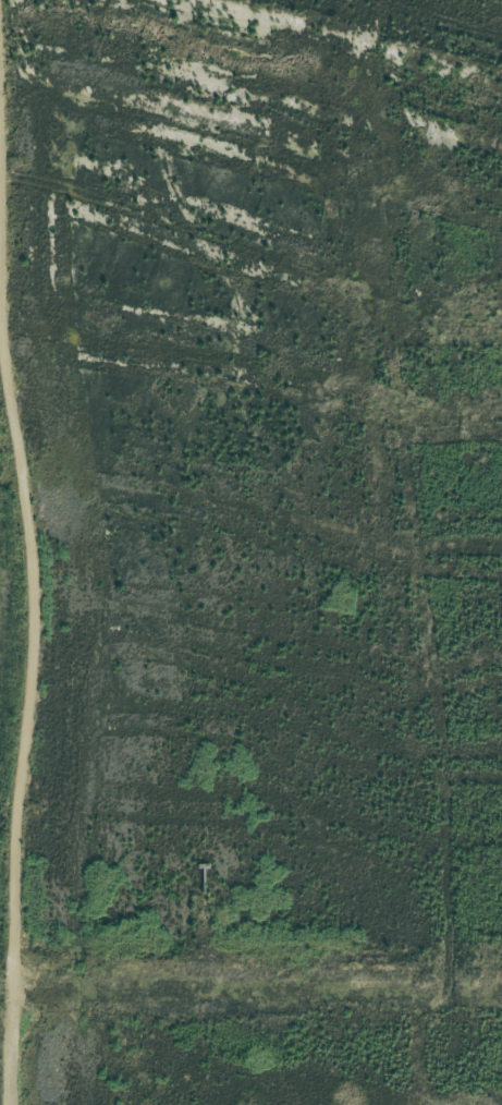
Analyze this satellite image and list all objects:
road: (23, 731)

